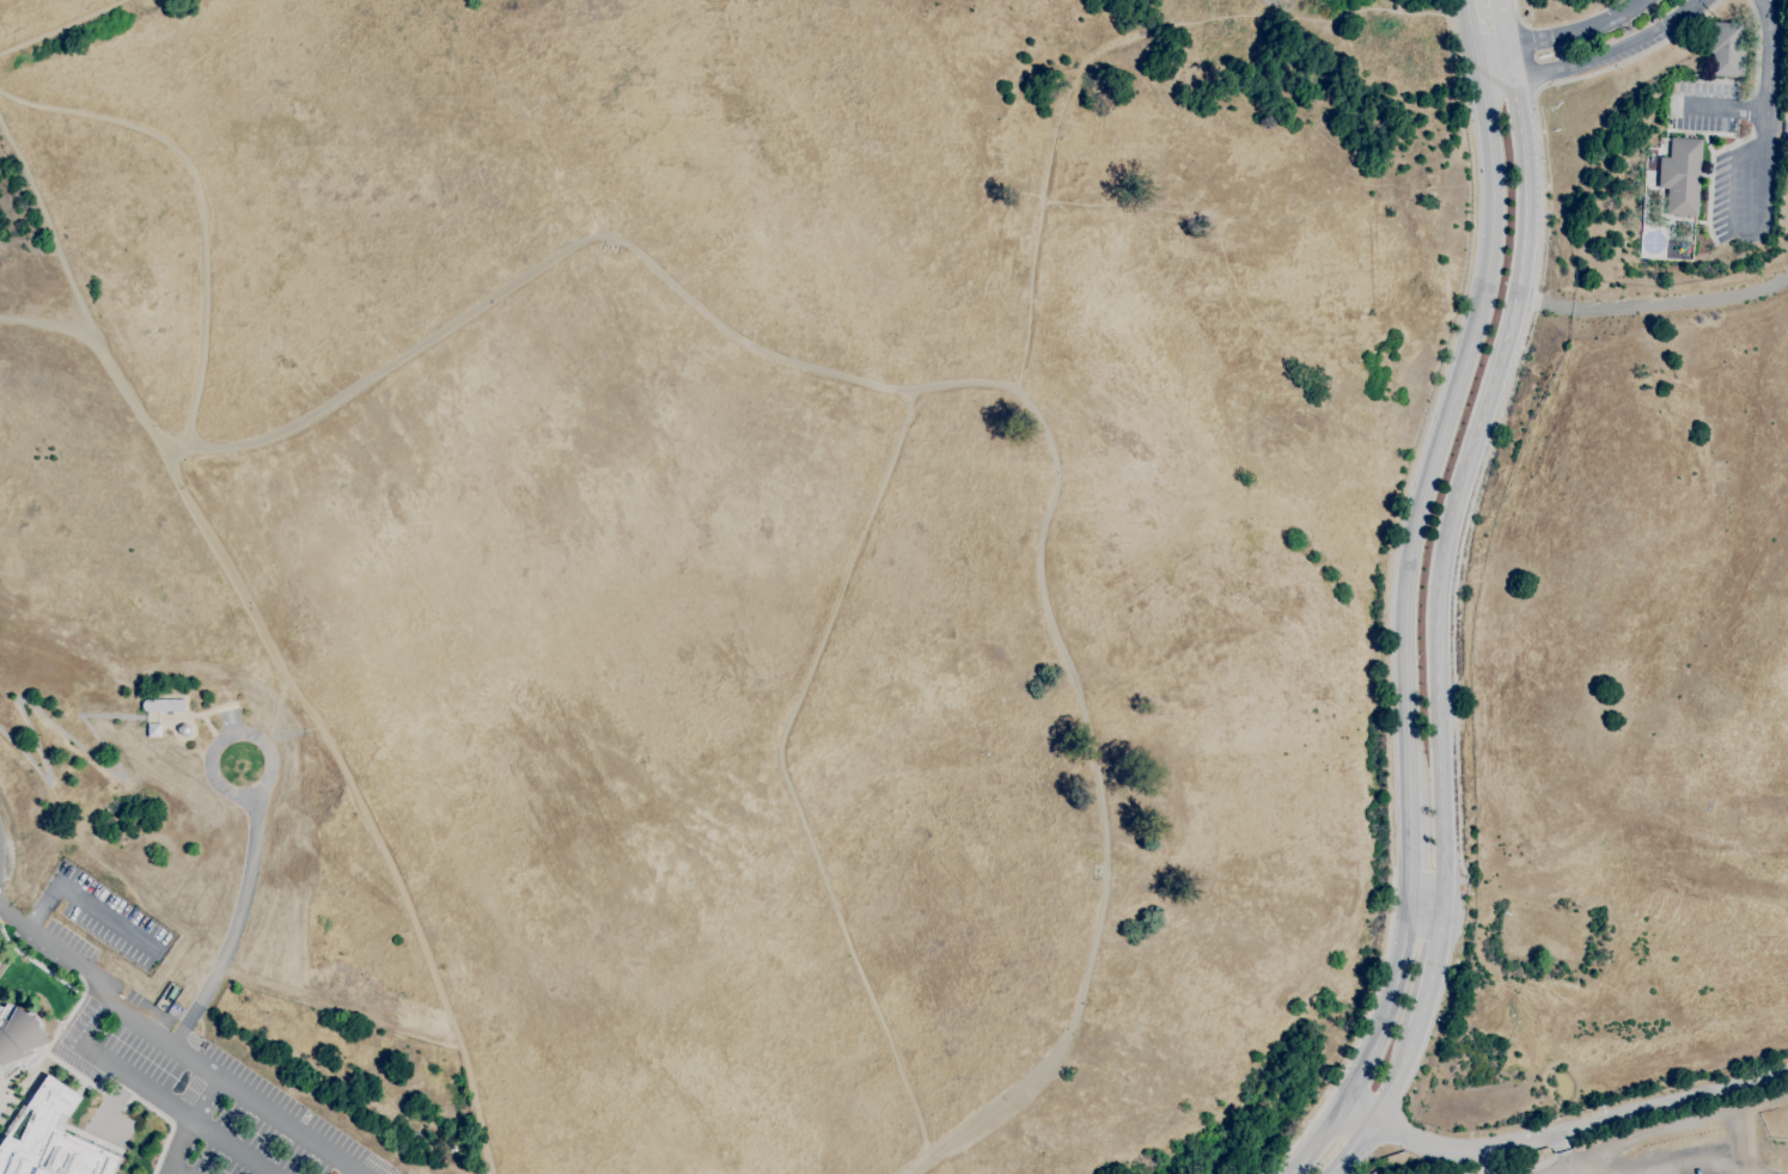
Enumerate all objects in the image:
road: (1518, 13)
building: (1654, 19)
road: (1500, 23)
road: (62, 26)
road: (1560, 36)
road: (1756, 39)
road: (1472, 41)
road: (1110, 47)
building: (1726, 49)
road: (1612, 56)
road: (1531, 57)
road: (1495, 79)
parking lot: (1716, 104)
road: (1763, 112)
road: (1775, 128)
building: (1682, 176)
parking lot: (1732, 192)
road: (200, 198)
road: (629, 250)
road: (78, 286)
road: (1654, 302)
road: (53, 323)
road: (1512, 379)
road: (1441, 435)
road: (1464, 470)
park: (755, 532)
building: (163, 705)
road: (202, 715)
road: (59, 727)
building: (153, 729)
building: (183, 729)
road: (212, 729)
road: (273, 734)
road: (227, 738)
road: (781, 774)
road: (1409, 848)
road: (79, 899)
road: (1426, 903)
parking lot: (109, 915)
road: (234, 924)
road: (61, 950)
building: (2, 965)
road: (1432, 966)
road: (340, 1007)
road: (1361, 1033)
building: (18, 1038)
road: (1372, 1048)
parking lot: (194, 1082)
road: (237, 1089)
road: (158, 1095)
road: (1381, 1107)
road: (169, 1119)
road: (189, 1123)
road: (1563, 1127)
building: (50, 1137)
road: (1544, 1162)
road: (1586, 1166)
road: (179, 1169)
road: (1699, 1170)

